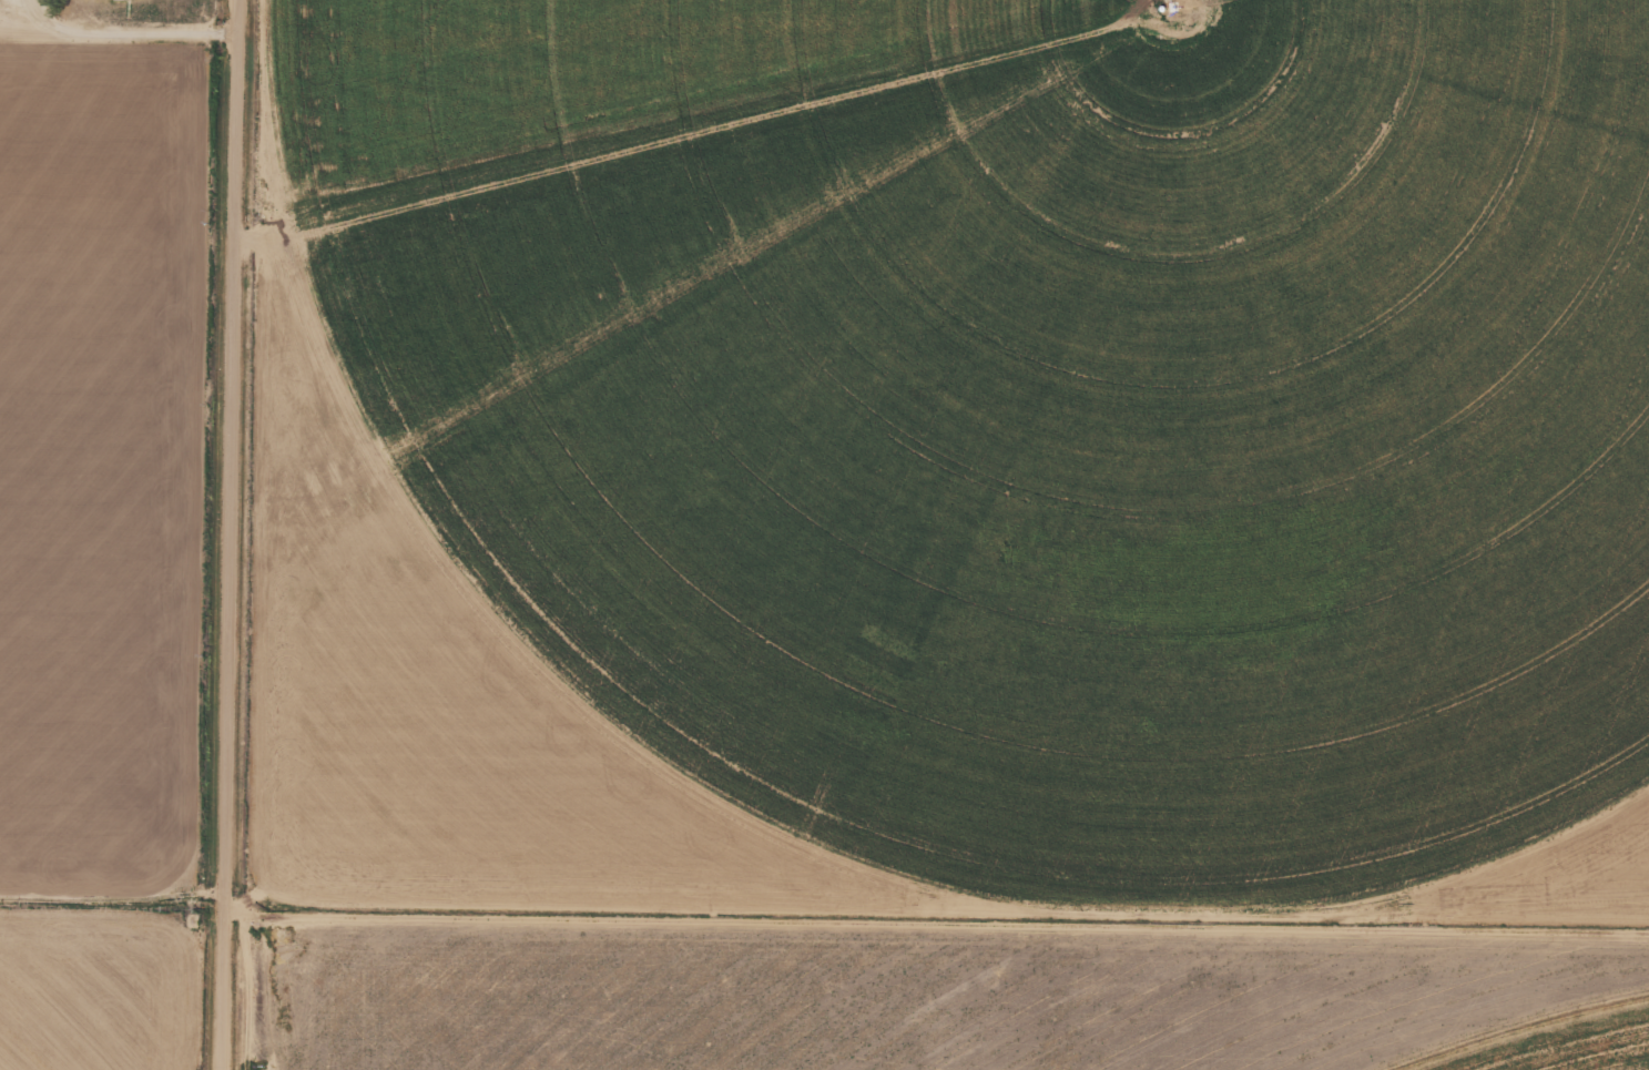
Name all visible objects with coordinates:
road: (121, 32)
crop: (964, 454)
road: (226, 534)
crop: (960, 1020)

